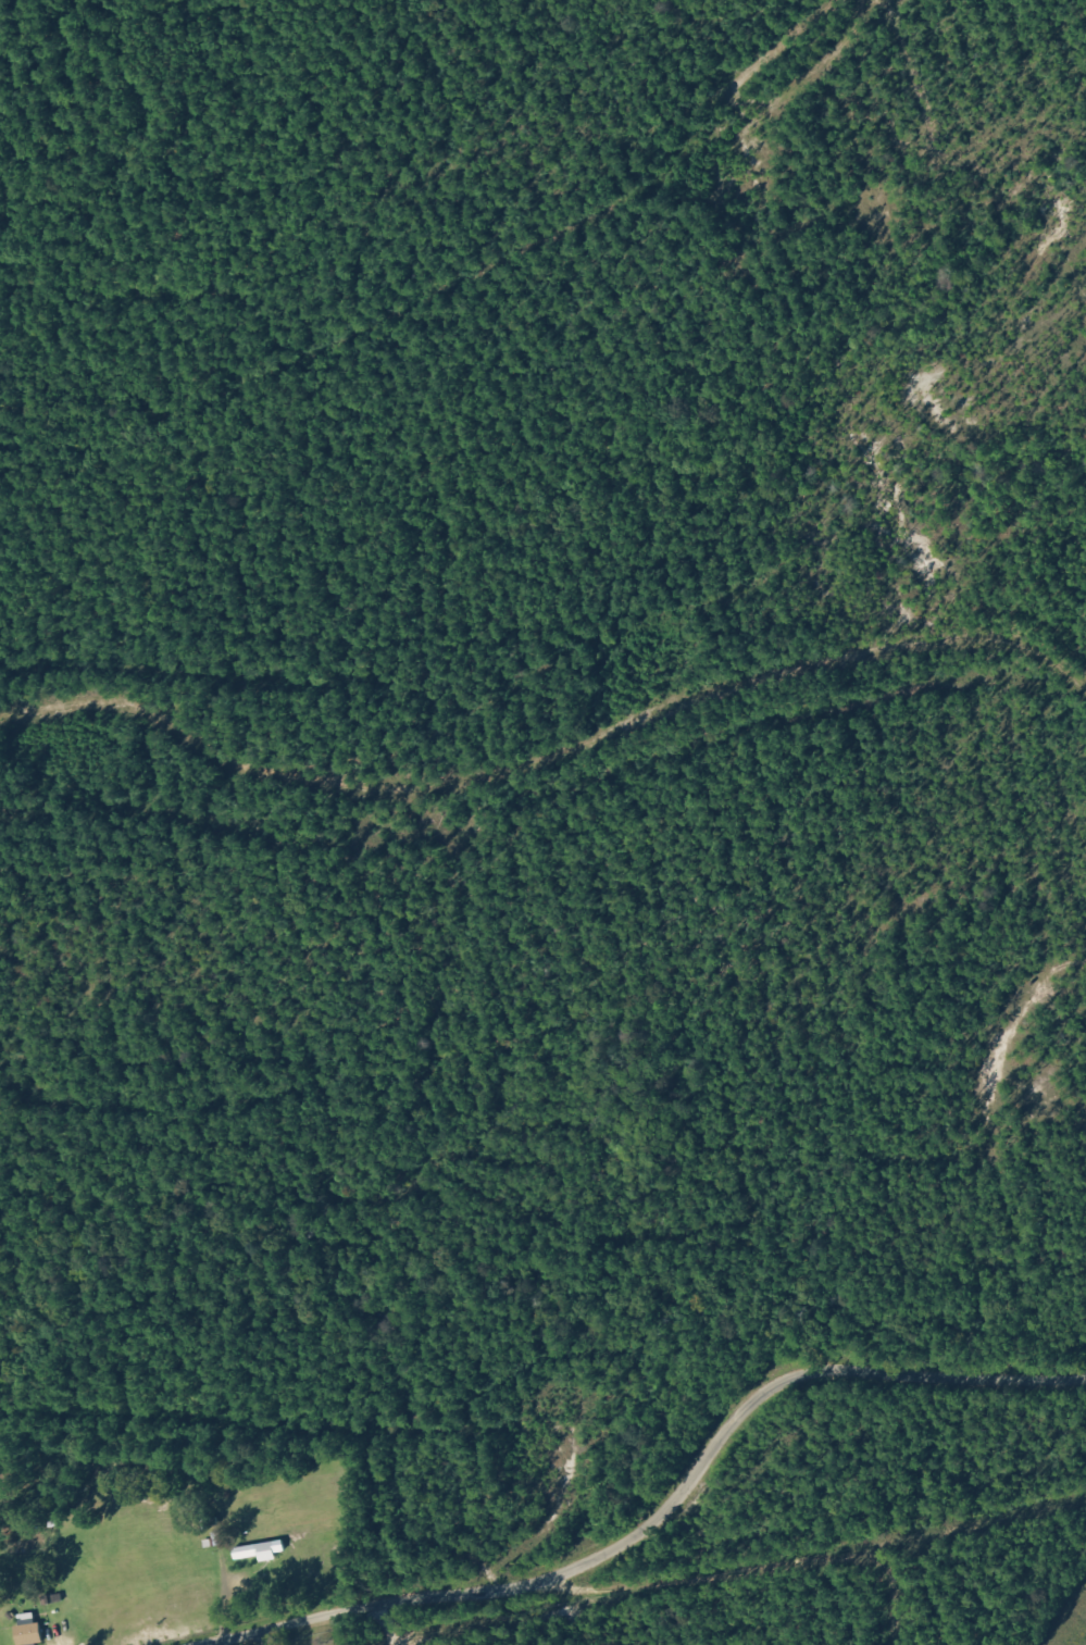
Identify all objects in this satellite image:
road: (678, 1461)
building: (260, 1550)
building: (26, 1631)

